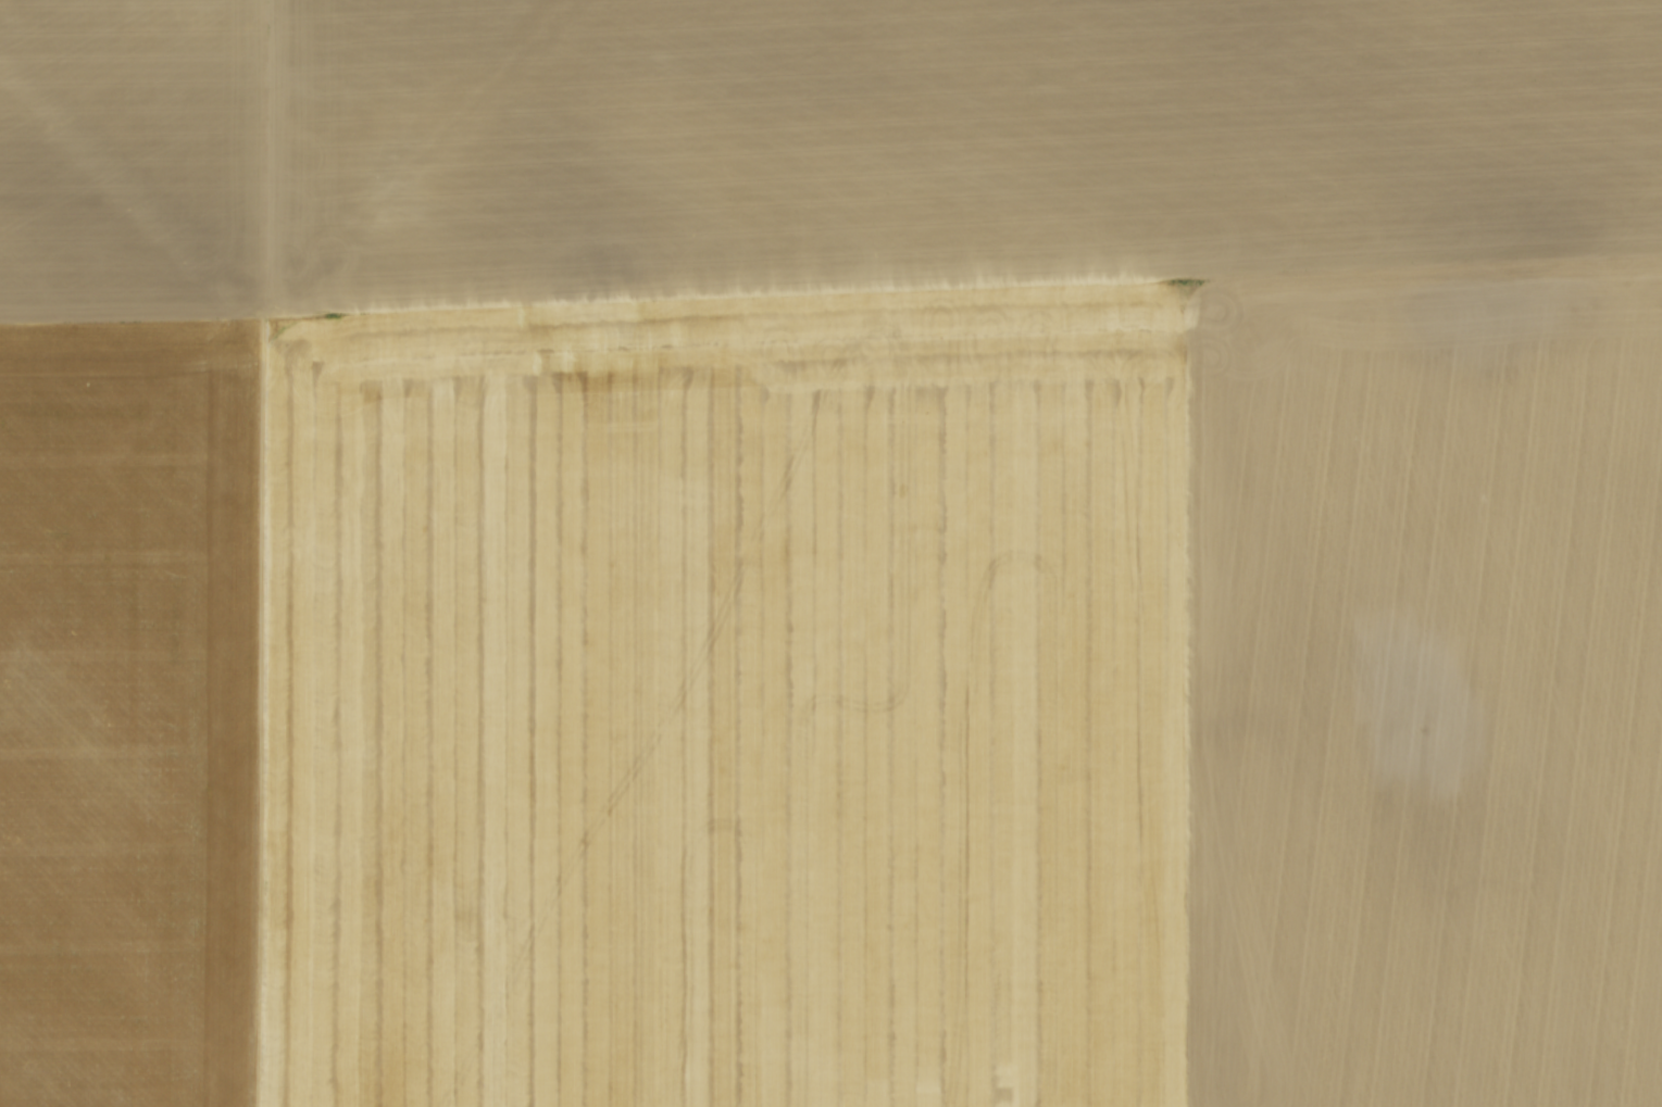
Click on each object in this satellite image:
crop: (830, 553)

